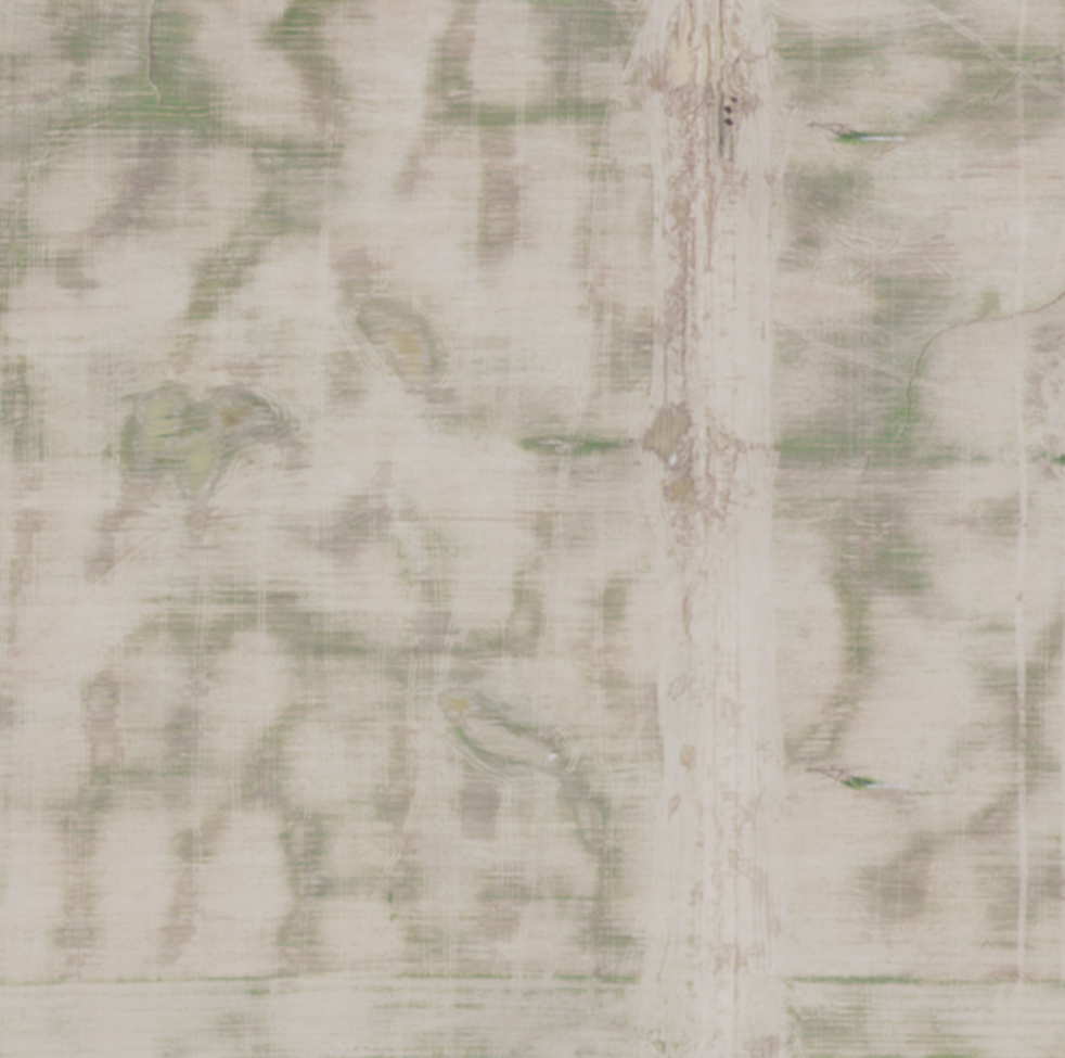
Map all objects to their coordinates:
power tower: (868, 140)
power tower: (865, 780)

